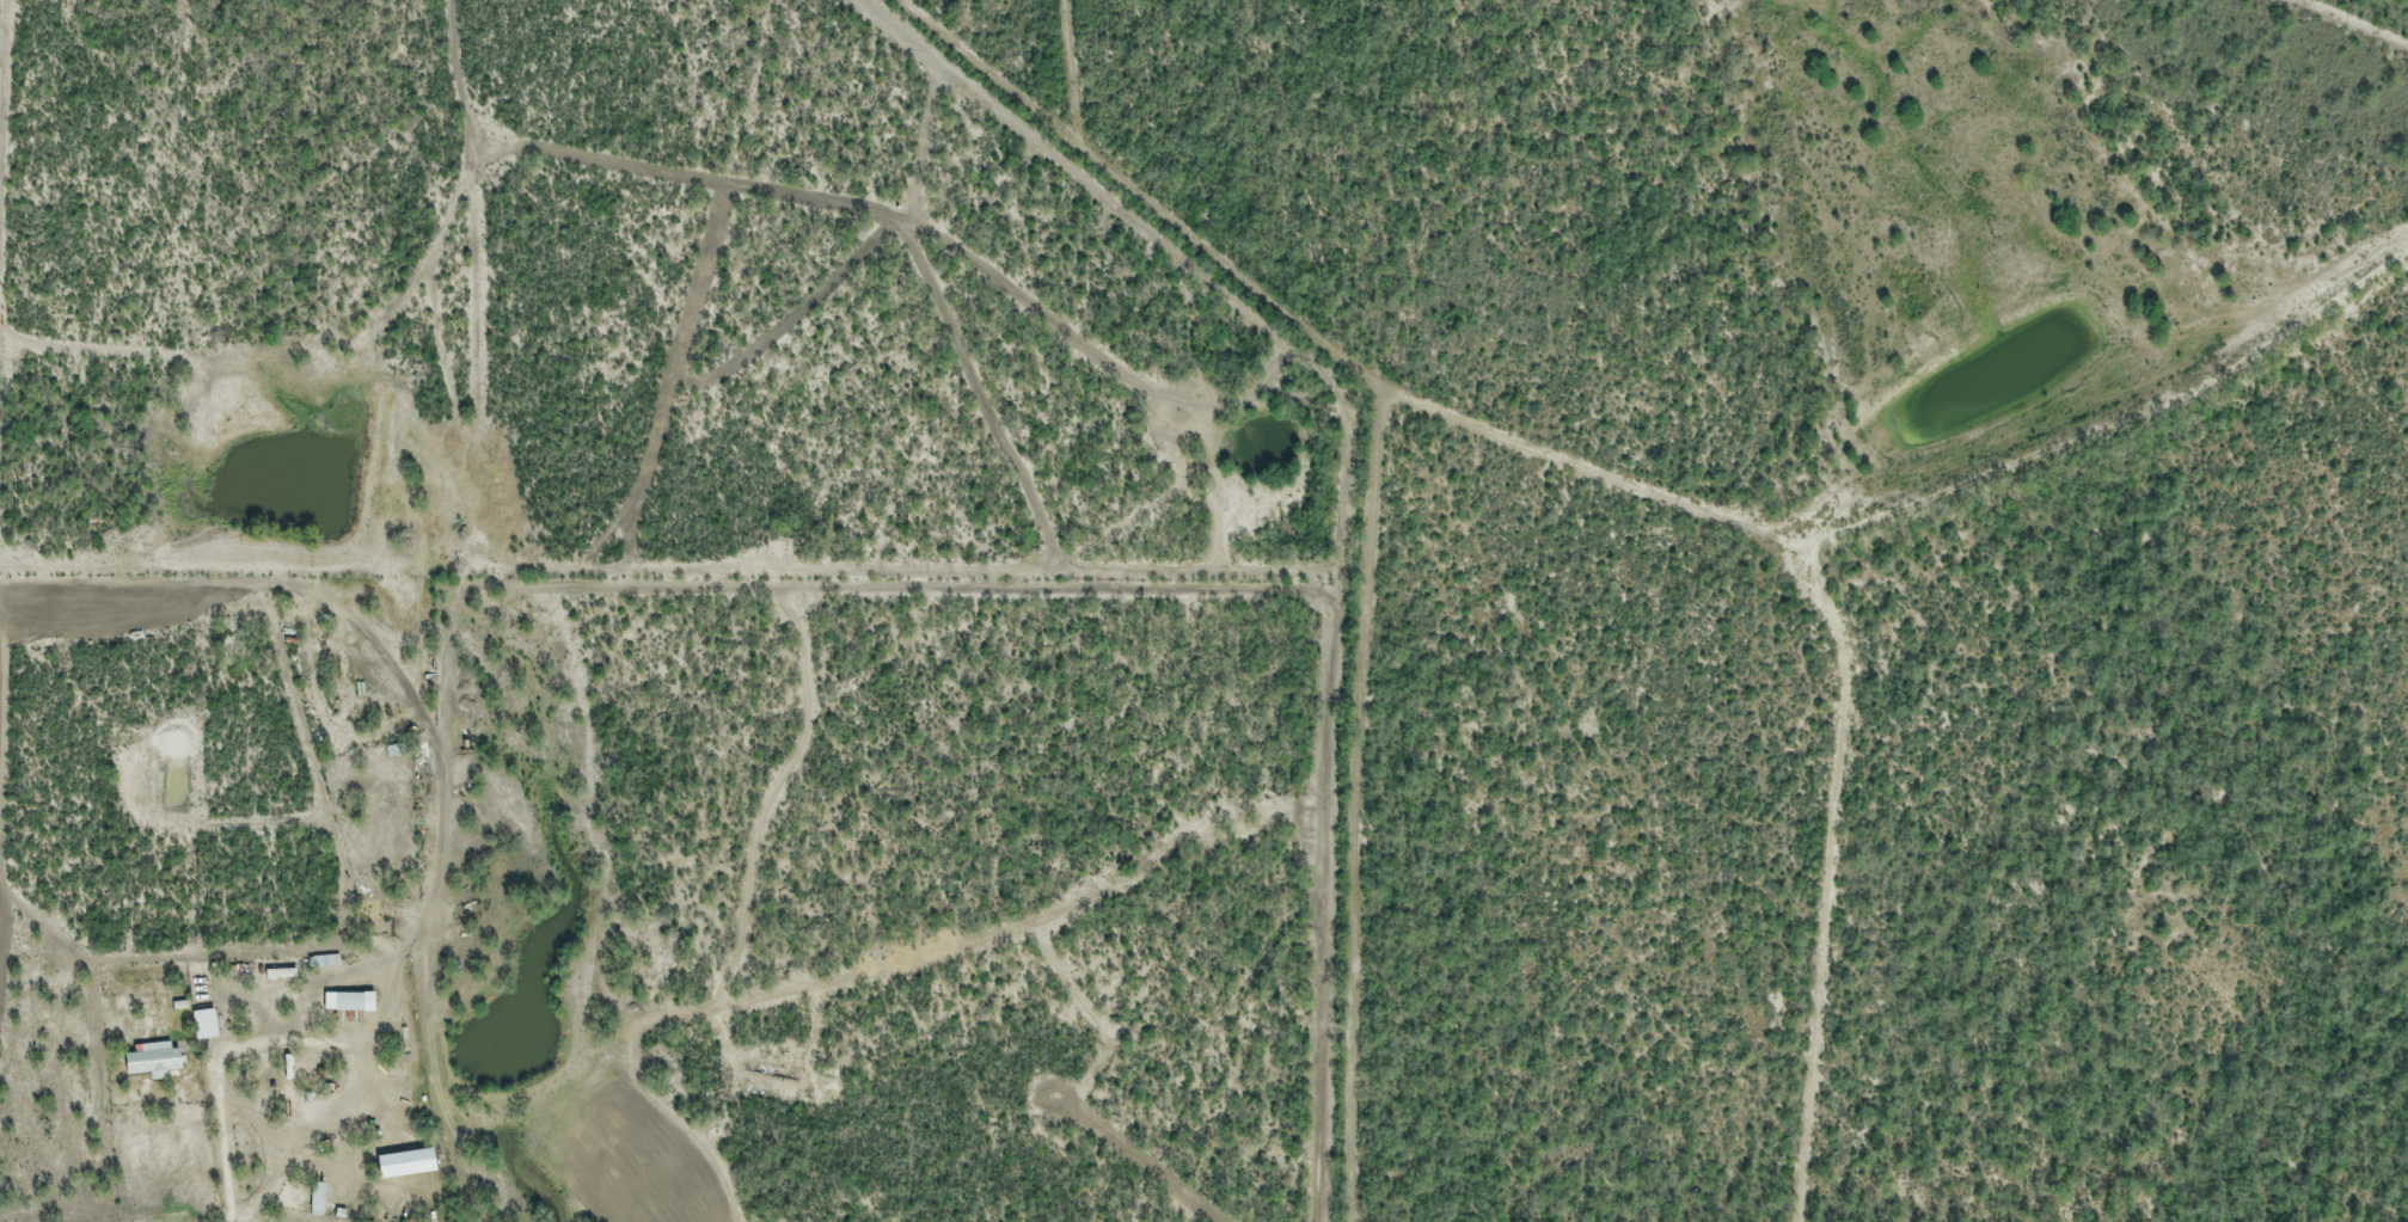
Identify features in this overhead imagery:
building: (350, 1003)
road: (301, 1039)
building: (154, 1063)
building: (319, 1198)

